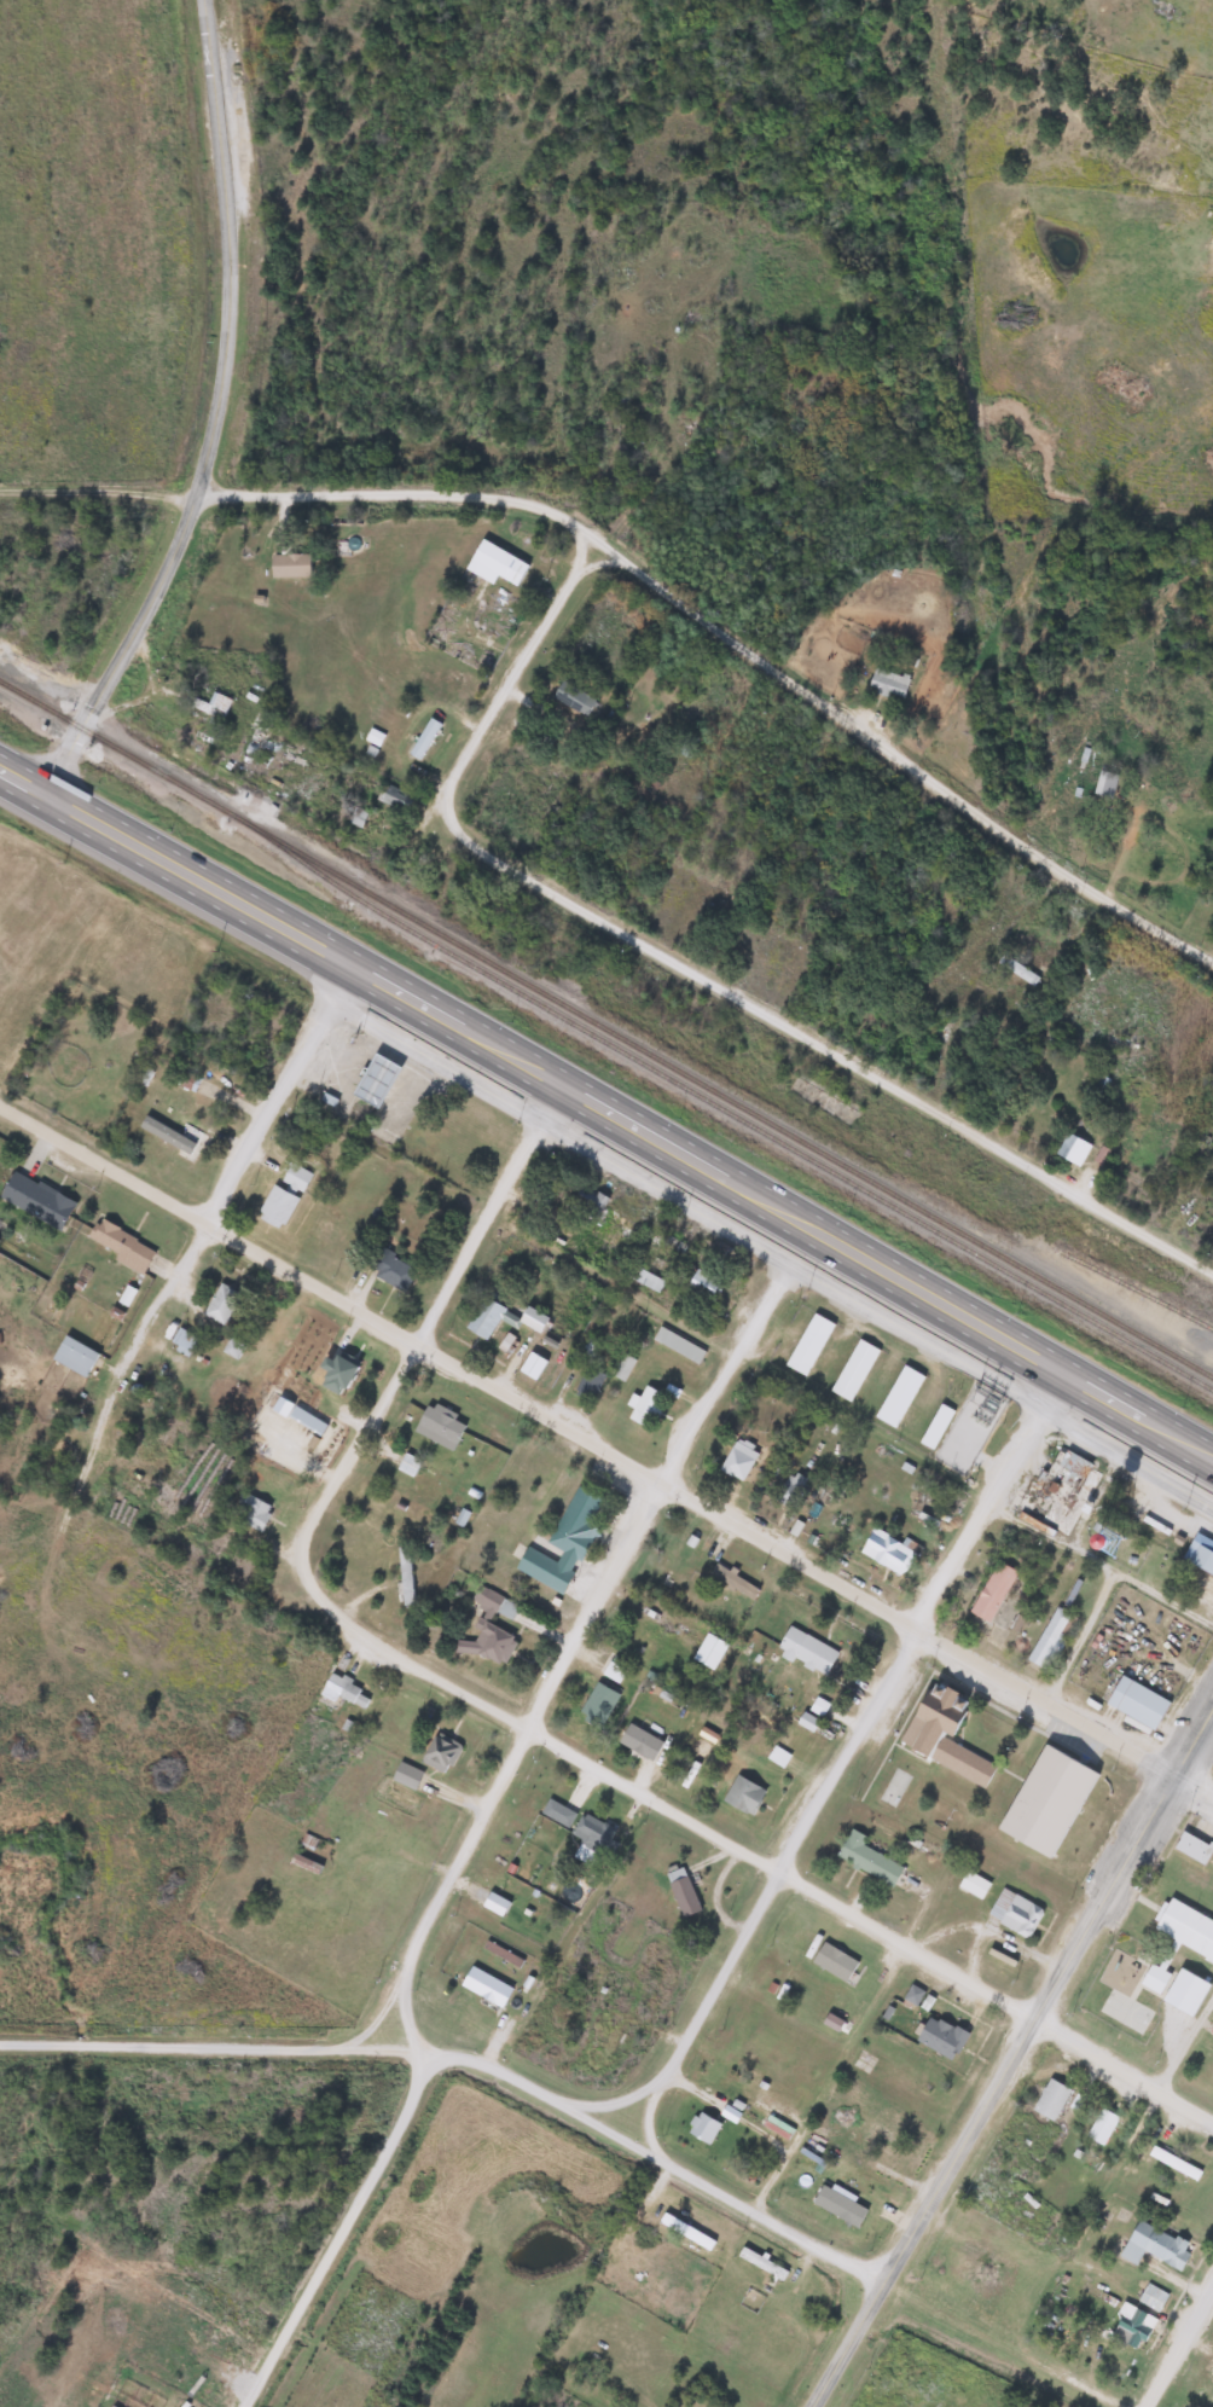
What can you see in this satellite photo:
road: (214, 417)
road: (99, 493)
building: (533, 547)
building: (494, 563)
building: (289, 564)
road: (732, 643)
road: (532, 646)
road: (152, 683)
building: (888, 683)
building: (573, 698)
building: (213, 706)
building: (255, 736)
building: (424, 738)
building: (687, 746)
building: (1099, 783)
road: (22, 785)
building: (395, 797)
building: (1017, 970)
road: (790, 1027)
railway: (605, 1031)
building: (375, 1079)
building: (186, 1081)
road: (280, 1097)
railway: (721, 1110)
road: (629, 1126)
building: (1072, 1150)
building: (295, 1178)
building: (35, 1200)
building: (588, 1203)
building: (275, 1207)
building: (118, 1243)
building: (389, 1268)
building: (643, 1278)
building: (703, 1284)
road: (610, 1287)
building: (221, 1303)
road: (150, 1315)
building: (484, 1318)
building: (532, 1319)
road: (419, 1338)
building: (678, 1344)
building: (807, 1344)
building: (74, 1356)
building: (532, 1365)
building: (623, 1368)
building: (853, 1369)
building: (333, 1373)
building: (588, 1384)
building: (898, 1396)
building: (644, 1406)
building: (306, 1420)
building: (445, 1425)
building: (934, 1426)
road: (603, 1456)
building: (738, 1458)
building: (407, 1464)
building: (1057, 1491)
building: (253, 1512)
road: (1046, 1539)
building: (562, 1543)
building: (886, 1550)
building: (1200, 1553)
building: (405, 1576)
building: (733, 1580)
building: (991, 1591)
road: (1159, 1602)
building: (489, 1630)
road: (1072, 1634)
building: (1050, 1638)
building: (707, 1651)
building: (805, 1651)
building: (343, 1688)
building: (1136, 1703)
building: (597, 1704)
building: (941, 1734)
building: (642, 1736)
building: (440, 1752)
road: (843, 1756)
building: (405, 1775)
building: (742, 1796)
road: (487, 1811)
building: (557, 1812)
building: (594, 1837)
building: (307, 1841)
building: (1190, 1848)
road: (761, 1858)
building: (865, 1858)
building: (304, 1864)
building: (971, 1885)
building: (681, 1892)
building: (1014, 1913)
building: (1178, 1942)
building: (832, 1962)
building: (486, 1986)
building: (1183, 1993)
building: (912, 1995)
building: (939, 2037)
road: (1185, 2042)
road: (1014, 2059)
road: (468, 2063)
road: (822, 2073)
building: (1049, 2100)
building: (701, 2127)
building: (1101, 2127)
building: (880, 2140)
building: (1173, 2163)
building: (837, 2206)
building: (685, 2232)
building: (1151, 2246)
building: (761, 2263)
building: (1151, 2298)
building: (1130, 2328)
road: (1184, 2355)
building: (1211, 2373)

